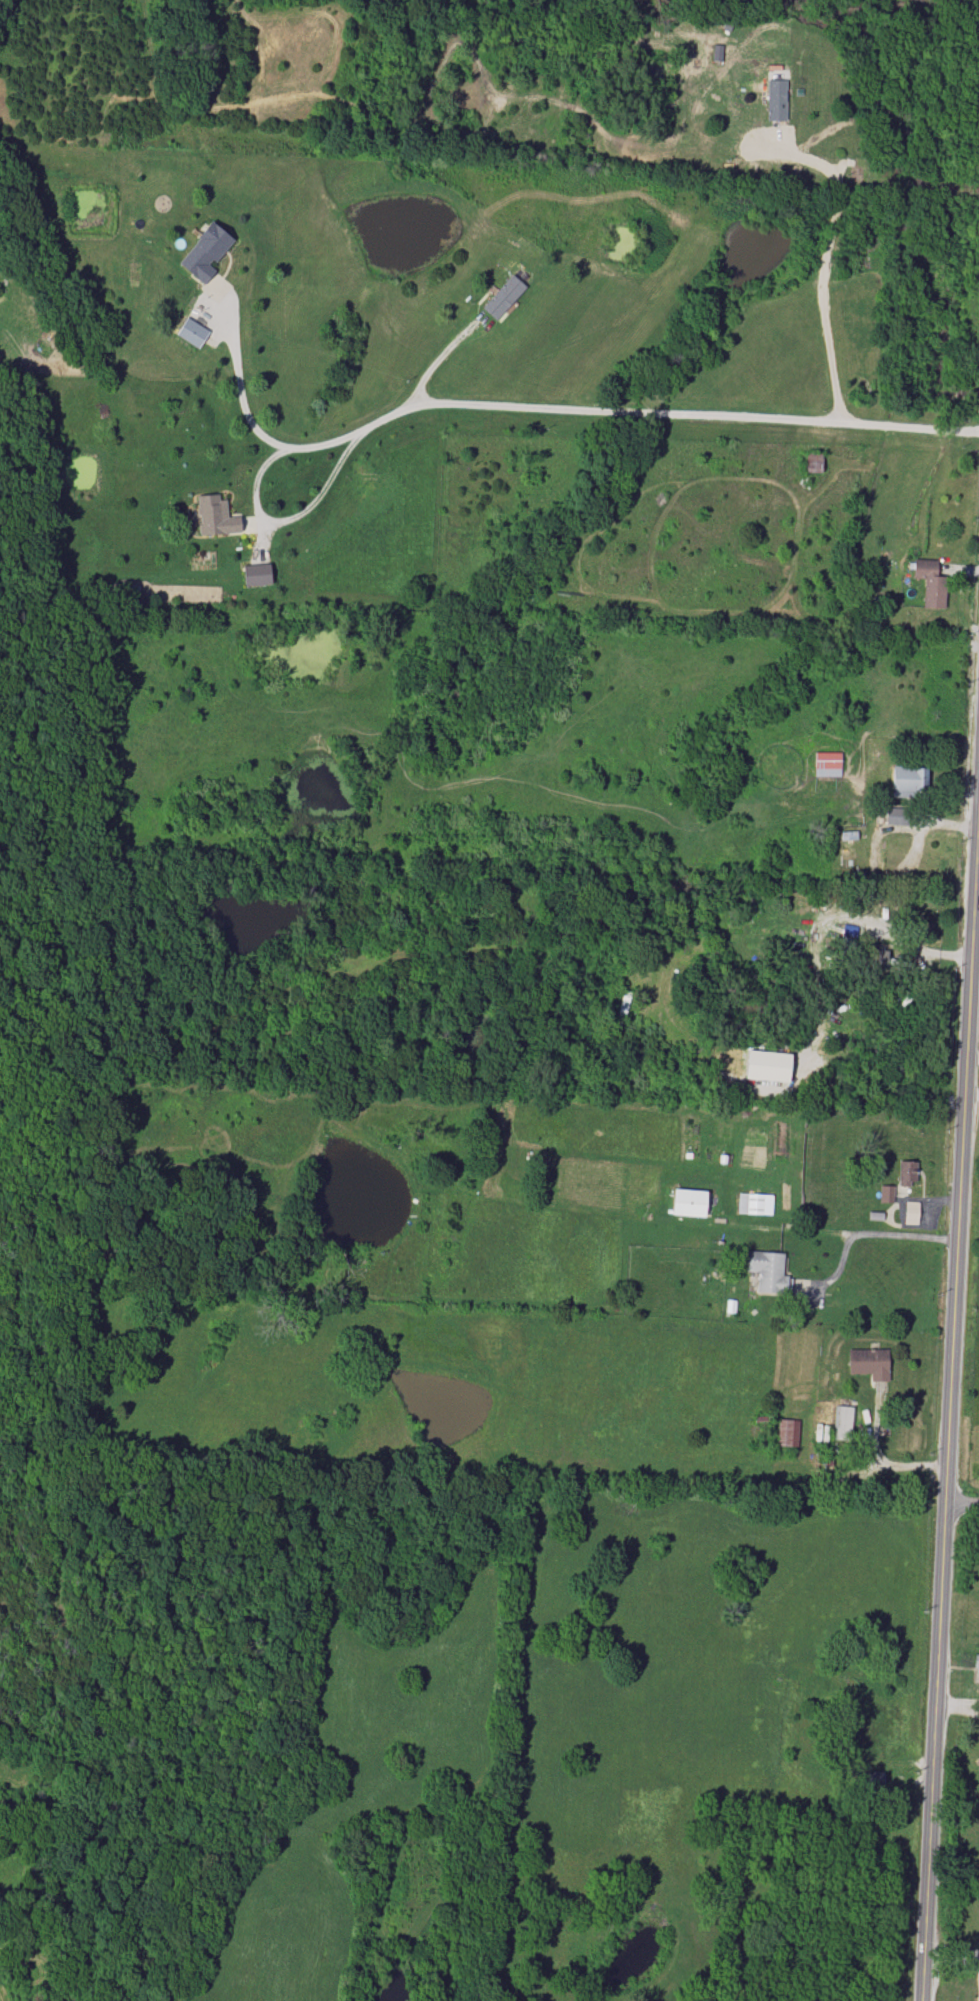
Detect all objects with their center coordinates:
building: (775, 100)
building: (204, 252)
road: (823, 257)
building: (503, 297)
building: (191, 332)
road: (434, 359)
road: (560, 405)
building: (215, 516)
road: (287, 519)
building: (256, 574)
building: (930, 583)
building: (827, 764)
building: (908, 780)
building: (895, 816)
road: (978, 820)
building: (849, 934)
building: (878, 956)
building: (767, 1065)
building: (906, 1172)
building: (886, 1193)
building: (688, 1202)
building: (910, 1212)
road: (846, 1232)
building: (768, 1271)
building: (869, 1362)
road: (954, 1398)
building: (844, 1423)
building: (788, 1432)
road: (885, 1467)
road: (964, 1501)
building: (976, 1664)
road: (960, 1713)
road: (955, 1958)

